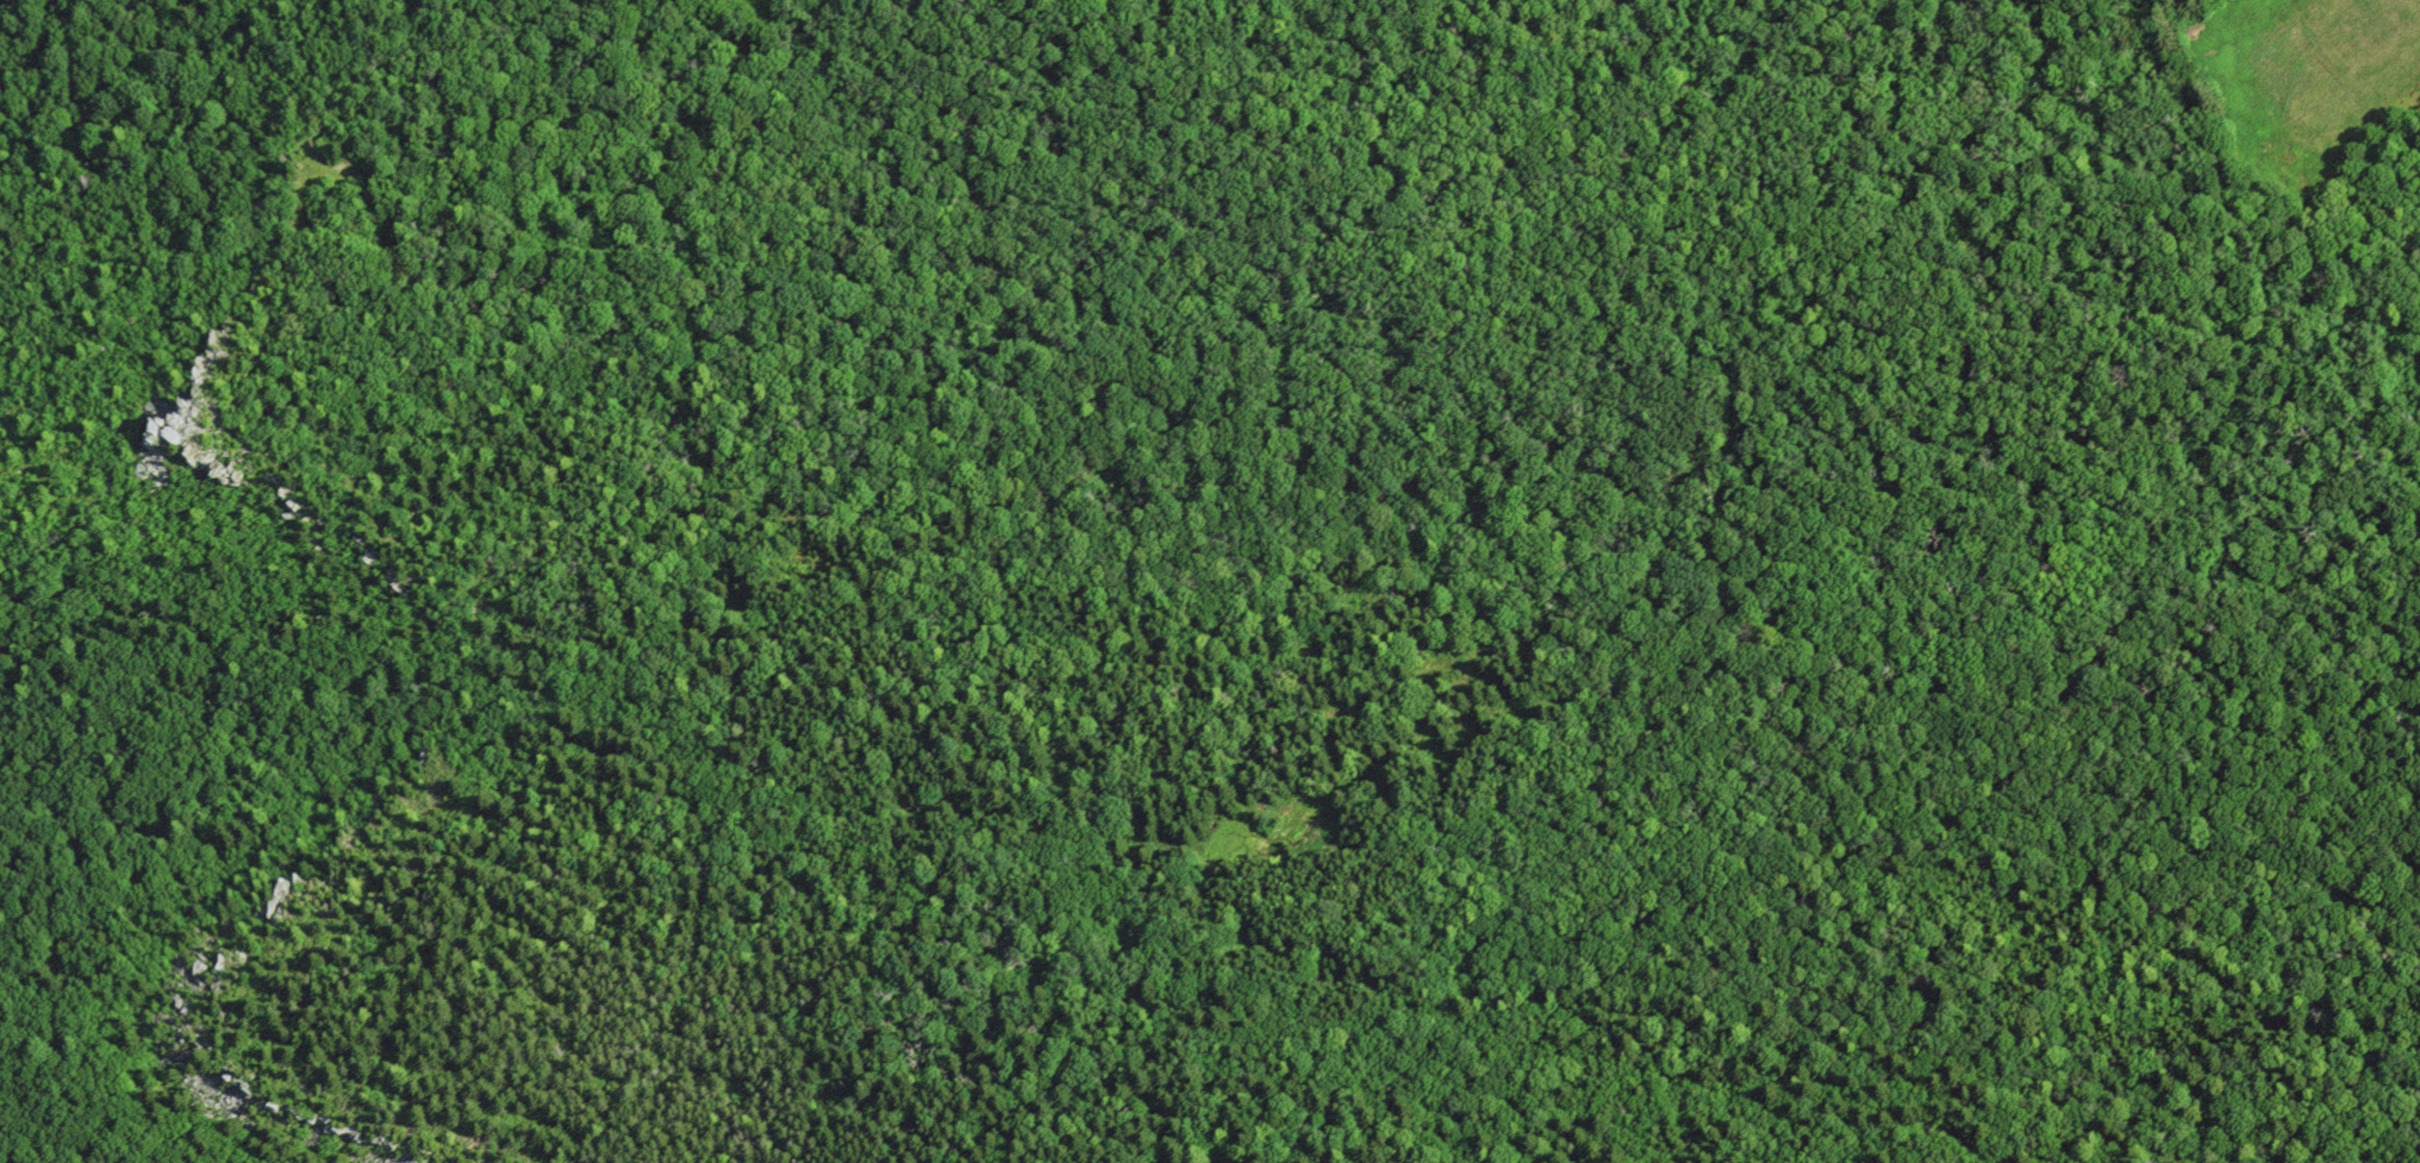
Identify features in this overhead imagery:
road: (520, 598)

